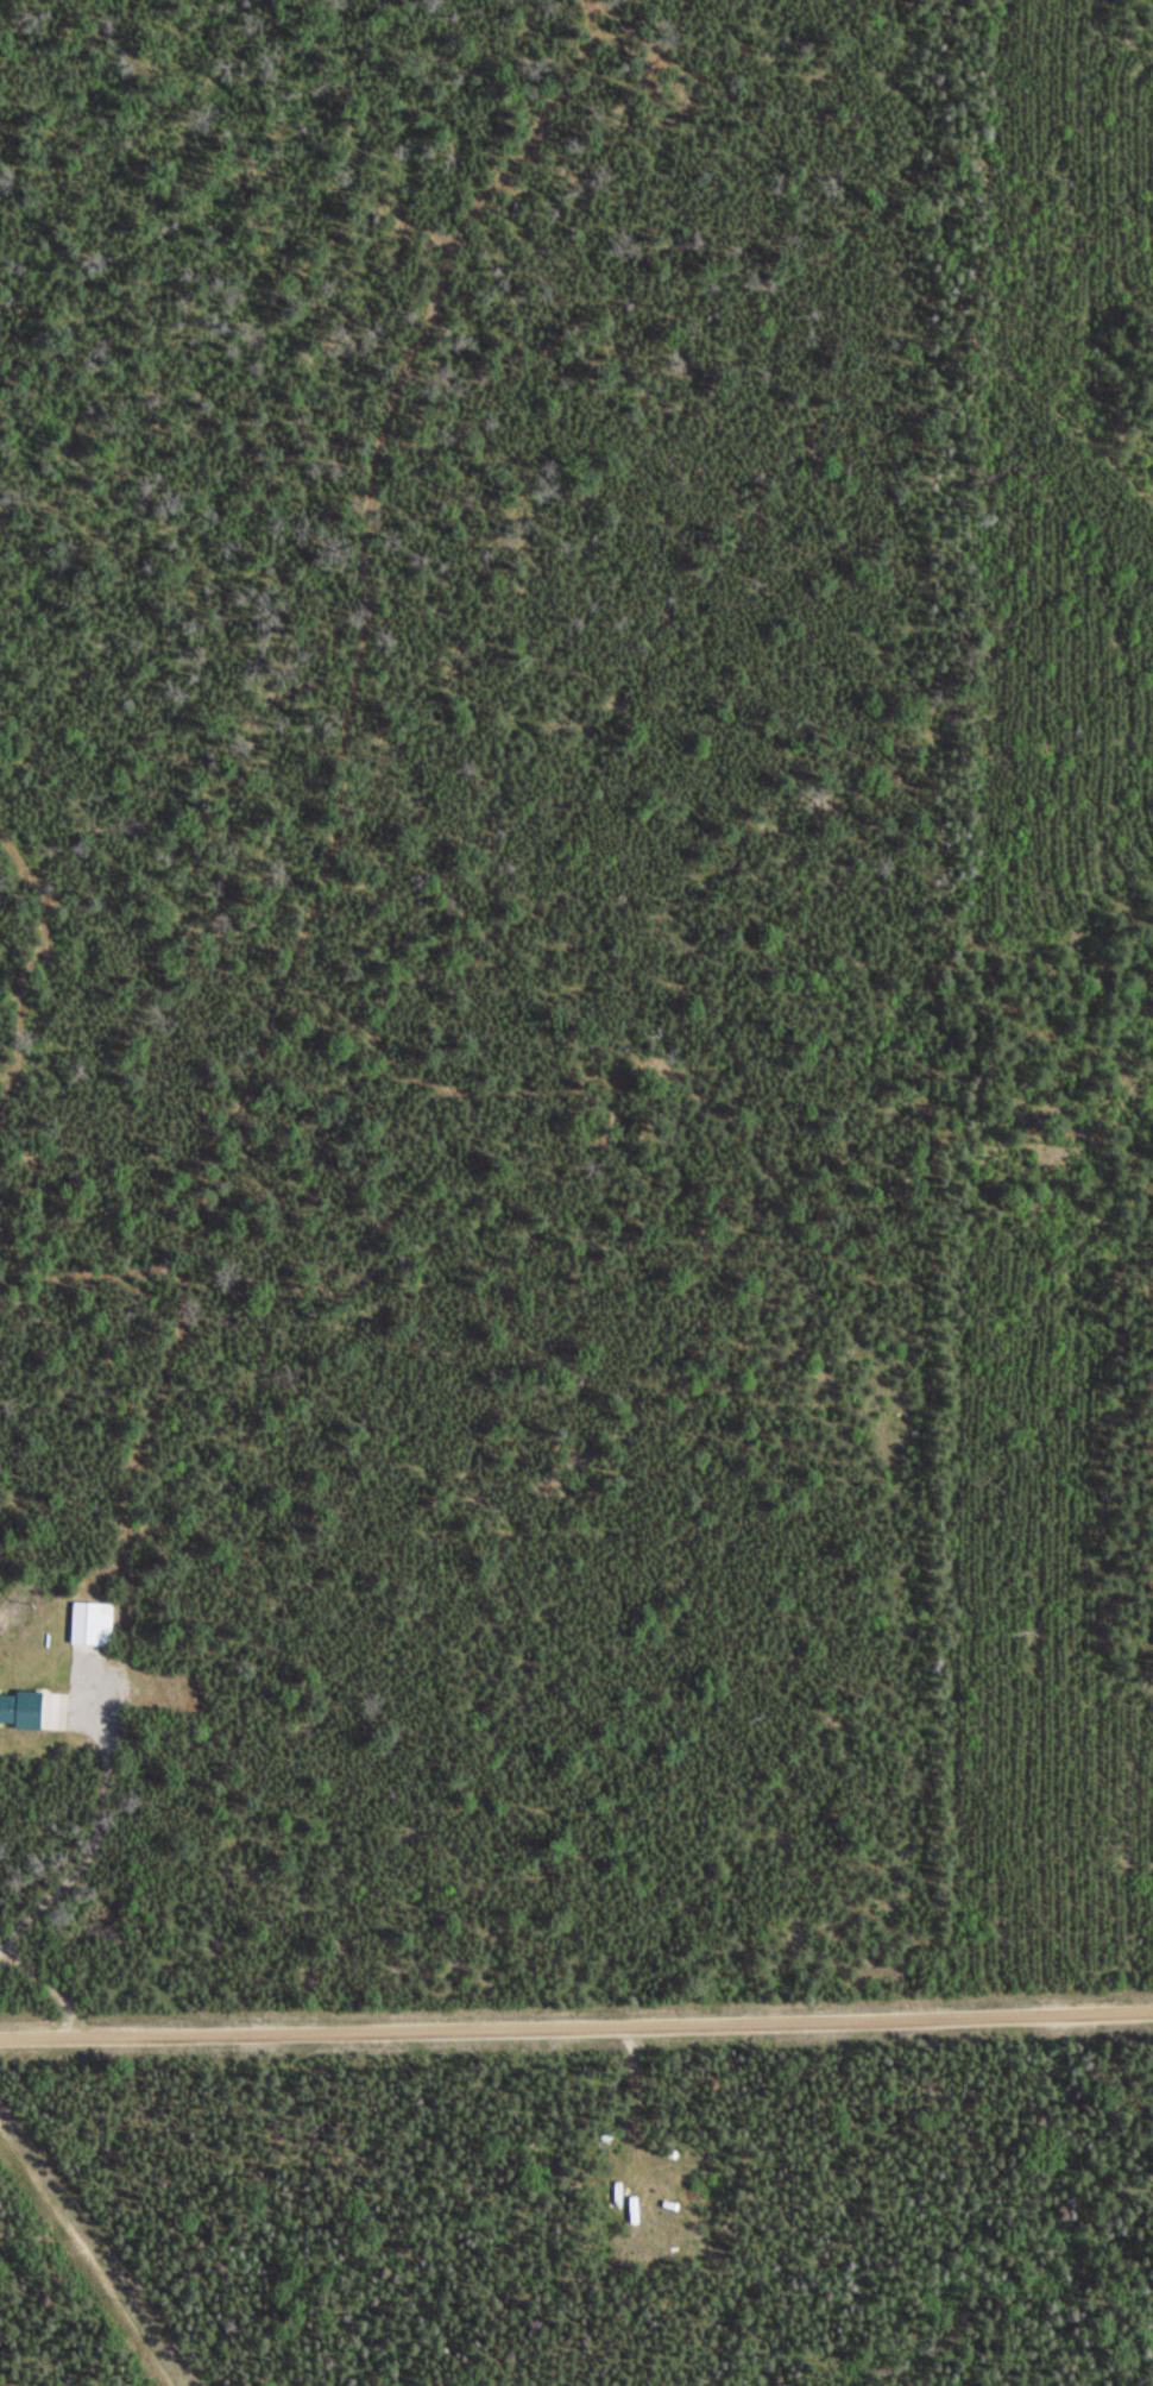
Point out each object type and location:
building: (92, 1625)
building: (20, 1708)
road: (100, 1828)
road: (576, 2029)

